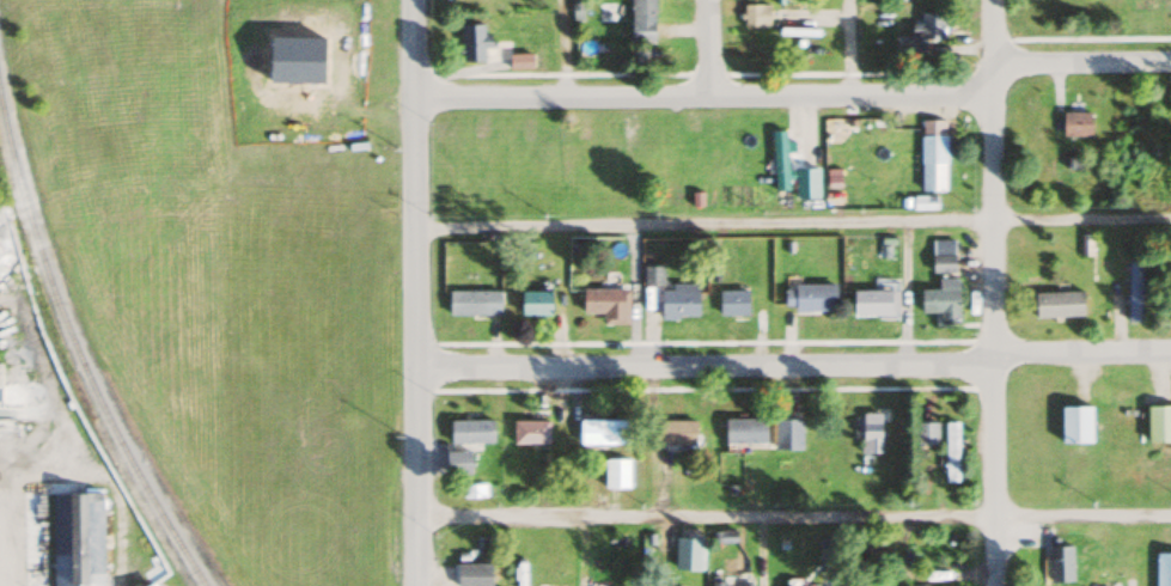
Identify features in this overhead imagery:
building: (1152, 6)
building: (755, 14)
building: (642, 22)
building: (798, 31)
building: (917, 38)
building: (472, 43)
road: (561, 48)
road: (705, 48)
road: (847, 48)
building: (520, 62)
road: (794, 96)
building: (1075, 124)
building: (932, 155)
building: (779, 160)
road: (791, 221)
building: (941, 256)
building: (652, 274)
building: (1134, 291)
road: (411, 293)
road: (989, 293)
building: (809, 297)
building: (678, 300)
building: (535, 301)
building: (732, 301)
building: (874, 301)
building: (940, 301)
building: (472, 303)
building: (606, 303)
building: (1059, 303)
building: (2, 330)
railway: (78, 356)
road: (792, 366)
building: (1158, 423)
building: (1075, 425)
building: (470, 431)
building: (744, 431)
building: (530, 432)
building: (603, 432)
building: (675, 433)
building: (870, 433)
building: (925, 433)
building: (787, 434)
building: (951, 452)
building: (458, 462)
building: (615, 474)
road: (792, 517)
building: (77, 539)
building: (688, 554)
building: (829, 563)
building: (1060, 563)
building: (1163, 564)
building: (472, 574)
building: (1100, 579)
building: (151, 584)
building: (719, 584)
building: (745, 585)

